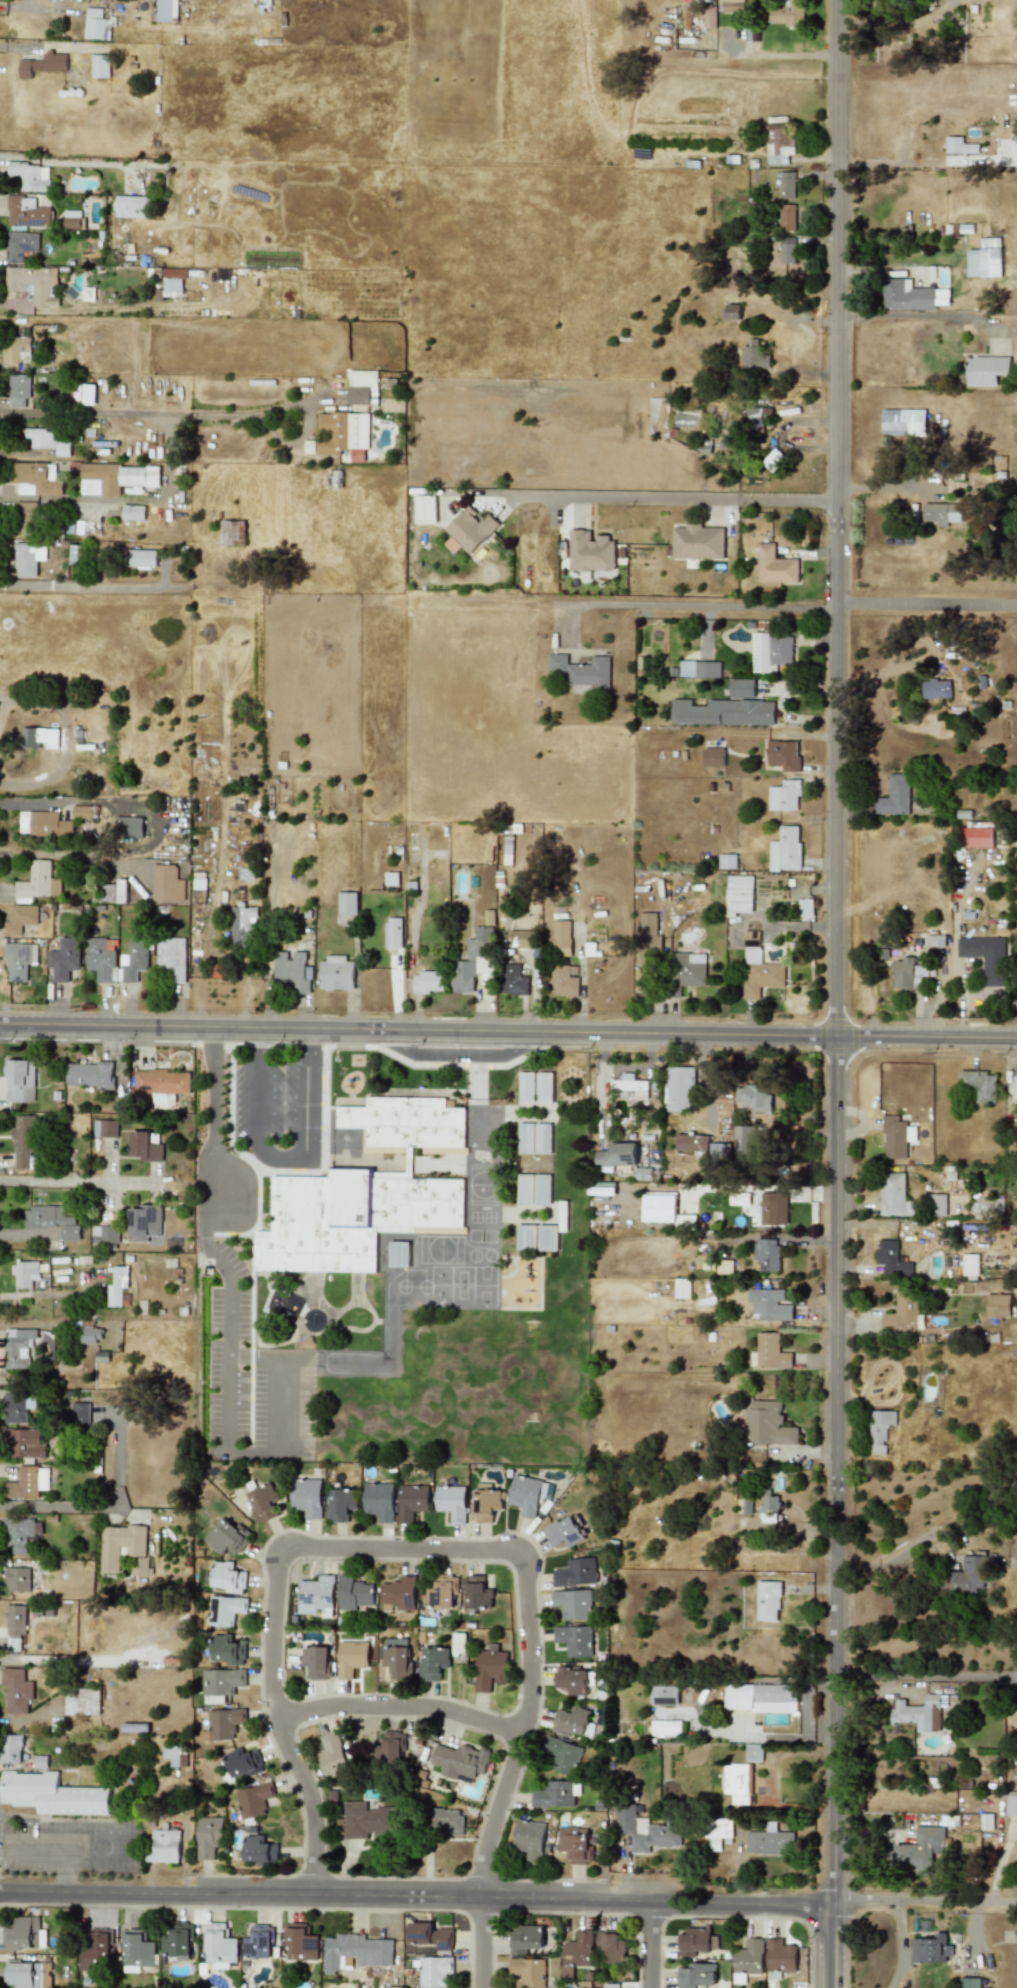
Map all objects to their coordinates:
building: (732, 6)
road: (16, 8)
building: (167, 10)
building: (788, 14)
building: (709, 17)
building: (97, 24)
building: (43, 65)
building: (100, 66)
building: (779, 142)
building: (956, 145)
road: (920, 164)
building: (31, 176)
building: (787, 185)
building: (130, 206)
building: (26, 212)
building: (786, 218)
building: (72, 219)
building: (20, 245)
building: (786, 250)
building: (984, 259)
building: (172, 281)
building: (33, 283)
building: (911, 296)
building: (731, 311)
road: (914, 314)
building: (16, 349)
building: (755, 356)
building: (986, 370)
building: (361, 386)
building: (18, 390)
building: (88, 394)
road: (146, 415)
building: (758, 417)
building: (903, 422)
building: (342, 434)
building: (50, 440)
building: (116, 477)
building: (36, 479)
road: (658, 501)
building: (419, 509)
building: (132, 513)
building: (941, 513)
building: (28, 516)
building: (468, 530)
building: (232, 533)
building: (697, 542)
building: (590, 551)
building: (28, 558)
building: (142, 559)
building: (774, 566)
road: (80, 587)
road: (927, 606)
road: (694, 608)
building: (770, 652)
building: (699, 669)
building: (582, 673)
building: (936, 688)
building: (741, 689)
building: (723, 712)
building: (38, 738)
building: (783, 755)
building: (713, 757)
building: (783, 796)
building: (894, 796)
building: (81, 812)
building: (43, 824)
building: (128, 826)
road: (153, 827)
building: (976, 837)
building: (784, 849)
building: (507, 852)
building: (726, 861)
building: (37, 883)
building: (166, 883)
building: (198, 884)
building: (121, 891)
building: (738, 895)
building: (346, 903)
building: (803, 908)
building: (20, 919)
building: (242, 925)
building: (648, 931)
building: (392, 933)
building: (561, 938)
building: (520, 939)
building: (985, 957)
building: (101, 958)
building: (171, 958)
building: (63, 959)
building: (134, 959)
building: (19, 960)
building: (475, 961)
building: (758, 968)
building: (690, 969)
building: (291, 970)
building: (335, 973)
building: (907, 973)
building: (513, 980)
building: (563, 981)
building: (427, 982)
road: (836, 994)
road: (417, 1030)
road: (926, 1038)
building: (89, 1074)
building: (20, 1081)
building: (162, 1082)
building: (979, 1084)
building: (630, 1085)
building: (526, 1087)
building: (1014, 1087)
building: (544, 1088)
building: (679, 1089)
road: (258, 1090)
road: (310, 1094)
building: (753, 1097)
building: (95, 1128)
building: (108, 1128)
road: (214, 1134)
building: (896, 1136)
building: (534, 1138)
building: (743, 1140)
building: (24, 1142)
building: (691, 1142)
building: (144, 1147)
building: (719, 1150)
building: (616, 1155)
road: (283, 1156)
building: (643, 1174)
road: (78, 1182)
building: (533, 1189)
building: (365, 1191)
building: (893, 1195)
building: (938, 1205)
building: (769, 1208)
building: (665, 1210)
building: (562, 1216)
building: (51, 1220)
building: (143, 1222)
building: (104, 1234)
building: (526, 1237)
building: (547, 1237)
road: (800, 1242)
building: (398, 1254)
building: (767, 1254)
building: (891, 1259)
building: (969, 1264)
building: (24, 1274)
building: (117, 1286)
building: (681, 1288)
building: (769, 1304)
building: (998, 1306)
building: (903, 1313)
building: (91, 1335)
road: (229, 1341)
building: (17, 1348)
road: (64, 1349)
building: (770, 1352)
building: (18, 1405)
road: (282, 1409)
building: (80, 1413)
building: (767, 1424)
building: (879, 1430)
building: (25, 1443)
road: (254, 1452)
building: (28, 1482)
building: (526, 1496)
building: (307, 1497)
building: (379, 1501)
building: (411, 1502)
building: (451, 1502)
building: (263, 1503)
building: (484, 1503)
building: (341, 1504)
building: (744, 1505)
road: (105, 1507)
building: (769, 1509)
building: (563, 1532)
building: (20, 1534)
building: (225, 1537)
building: (120, 1545)
road: (401, 1549)
road: (891, 1558)
building: (141, 1565)
building: (576, 1572)
building: (968, 1574)
building: (227, 1577)
building: (16, 1579)
building: (441, 1592)
building: (354, 1593)
building: (477, 1594)
building: (399, 1595)
building: (316, 1596)
building: (767, 1601)
building: (572, 1604)
building: (224, 1610)
building: (15, 1626)
building: (574, 1640)
building: (226, 1649)
building: (396, 1657)
building: (351, 1658)
building: (316, 1661)
building: (433, 1662)
building: (489, 1666)
road: (928, 1674)
building: (571, 1680)
building: (221, 1684)
building: (16, 1690)
building: (664, 1694)
building: (760, 1697)
building: (81, 1701)
road: (399, 1709)
building: (571, 1721)
building: (224, 1723)
building: (135, 1727)
building: (665, 1728)
building: (10, 1748)
building: (390, 1748)
building: (753, 1753)
building: (331, 1754)
building: (174, 1755)
building: (563, 1756)
building: (460, 1761)
building: (239, 1764)
building: (736, 1783)
building: (556, 1794)
building: (52, 1795)
building: (253, 1801)
building: (1011, 1805)
building: (365, 1820)
building: (445, 1821)
building: (986, 1822)
building: (645, 1830)
building: (719, 1833)
building: (209, 1837)
building: (529, 1840)
building: (769, 1842)
road: (62, 1844)
building: (575, 1844)
building: (164, 1846)
building: (921, 1849)
building: (258, 1850)
road: (67, 1867)
road: (508, 1896)
building: (22, 1934)
building: (430, 1935)
building: (525, 1939)
building: (693, 1941)
road: (480, 1942)
road: (651, 1942)
building: (258, 1943)
building: (300, 1943)
building: (177, 1944)
building: (219, 1946)
road: (898, 1946)
building: (137, 1949)
building: (930, 1949)
building: (95, 1950)
building: (355, 1952)
building: (576, 1953)
building: (779, 1958)
building: (747, 1959)
building: (434, 1971)
building: (528, 1971)
building: (28, 1974)
building: (695, 1975)
building: (969, 1983)
building: (611, 1986)
building: (390, 1987)

